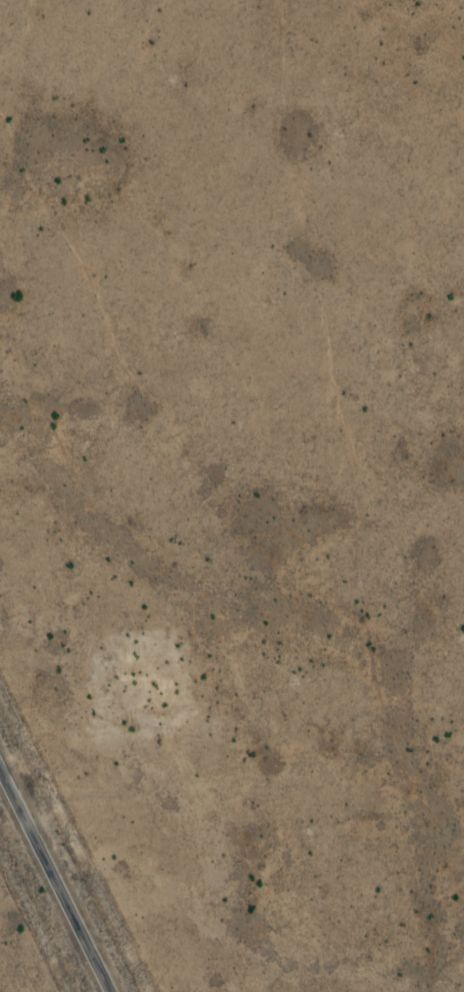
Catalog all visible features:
road: (57, 875)

